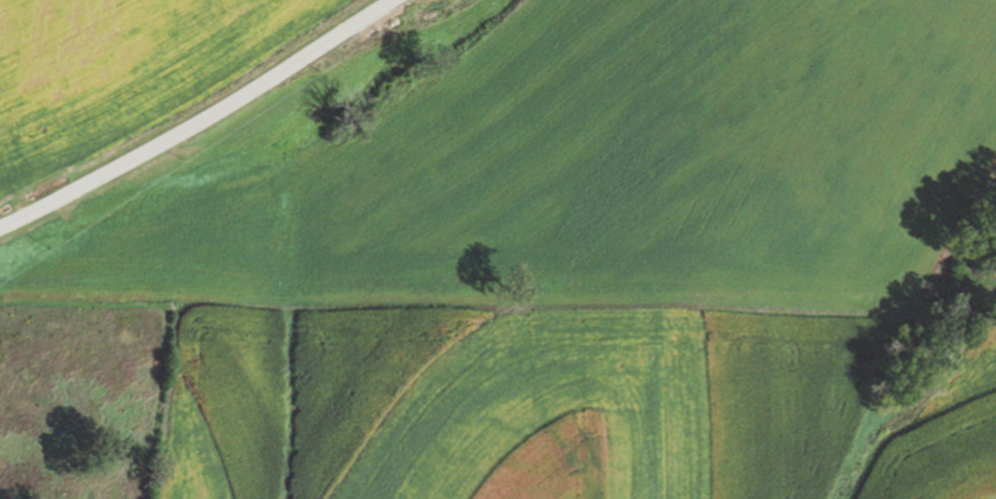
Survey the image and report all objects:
road: (200, 118)

